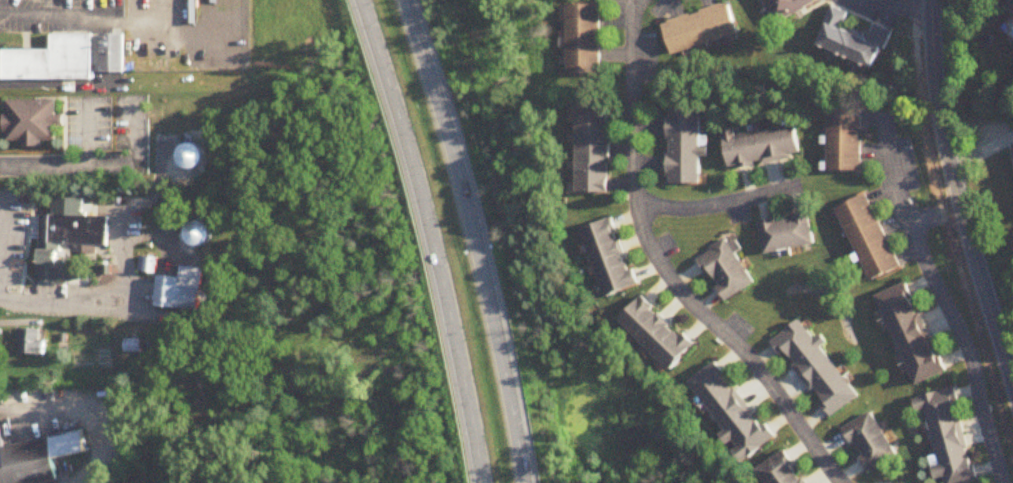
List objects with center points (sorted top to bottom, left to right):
road: (639, 1)
building: (1011, 6)
building: (789, 8)
road: (899, 8)
road: (58, 14)
building: (701, 29)
building: (585, 41)
building: (854, 41)
building: (114, 52)
building: (53, 60)
road: (53, 85)
building: (32, 122)
road: (86, 133)
building: (846, 138)
building: (684, 147)
building: (593, 152)
road: (98, 163)
road: (892, 169)
road: (957, 193)
road: (719, 207)
road: (936, 216)
road: (4, 228)
building: (788, 233)
road: (477, 238)
building: (870, 238)
road: (432, 239)
building: (66, 244)
building: (611, 257)
road: (667, 269)
building: (728, 270)
building: (181, 290)
road: (103, 301)
building: (659, 332)
building: (912, 334)
building: (31, 342)
road: (968, 349)
road: (1010, 365)
building: (818, 368)
road: (30, 403)
building: (733, 410)
building: (949, 435)
building: (871, 442)
building: (38, 459)
building: (784, 470)

